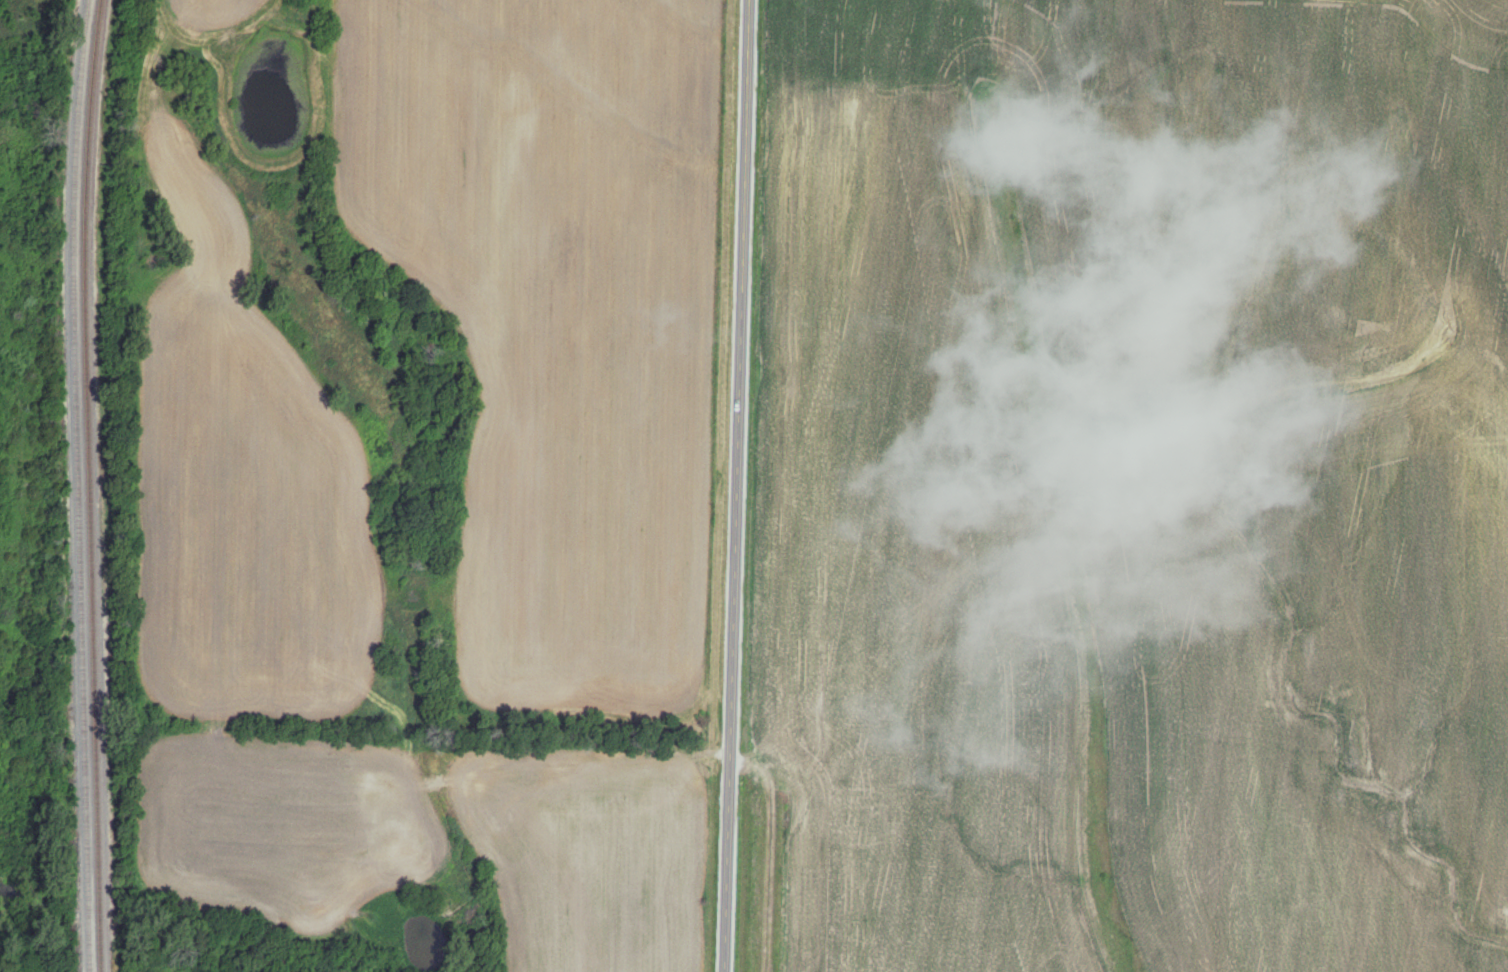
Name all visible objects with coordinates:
railway: (76, 485)
railway: (87, 485)
road: (742, 486)

